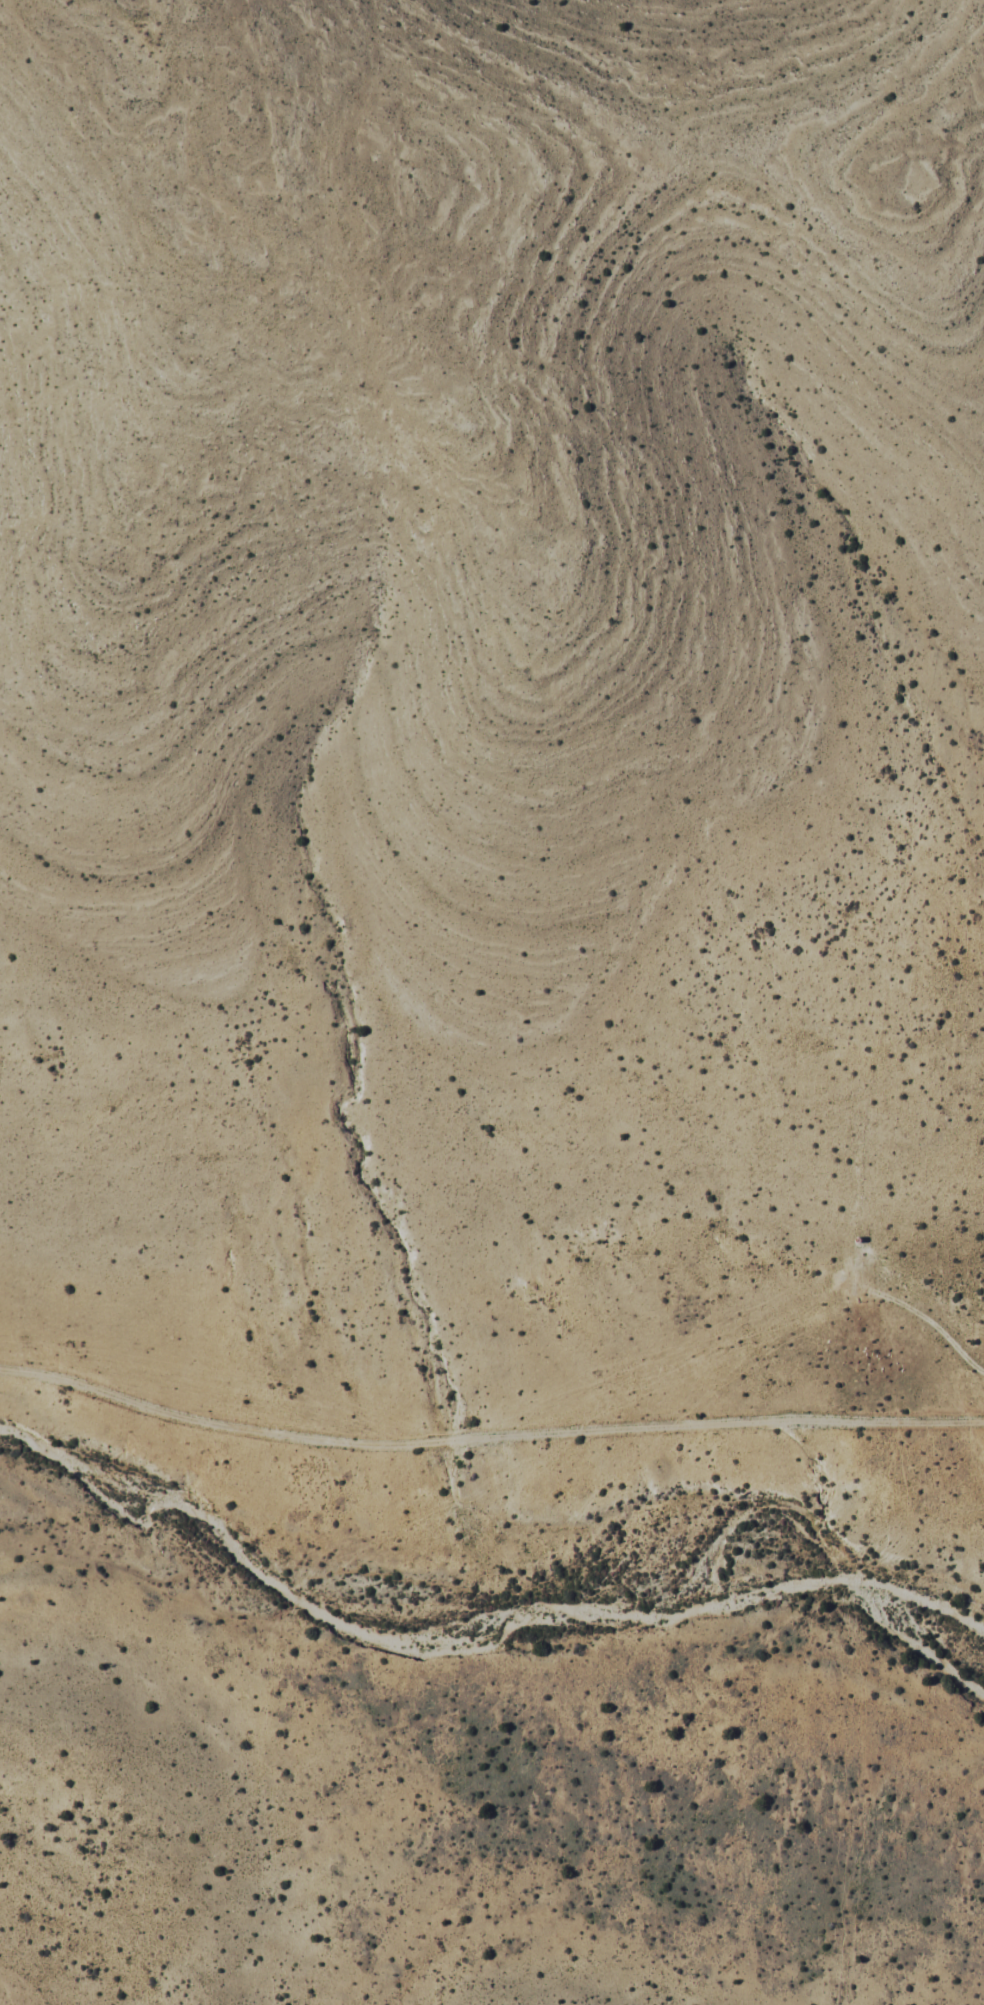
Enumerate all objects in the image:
road: (487, 1430)

